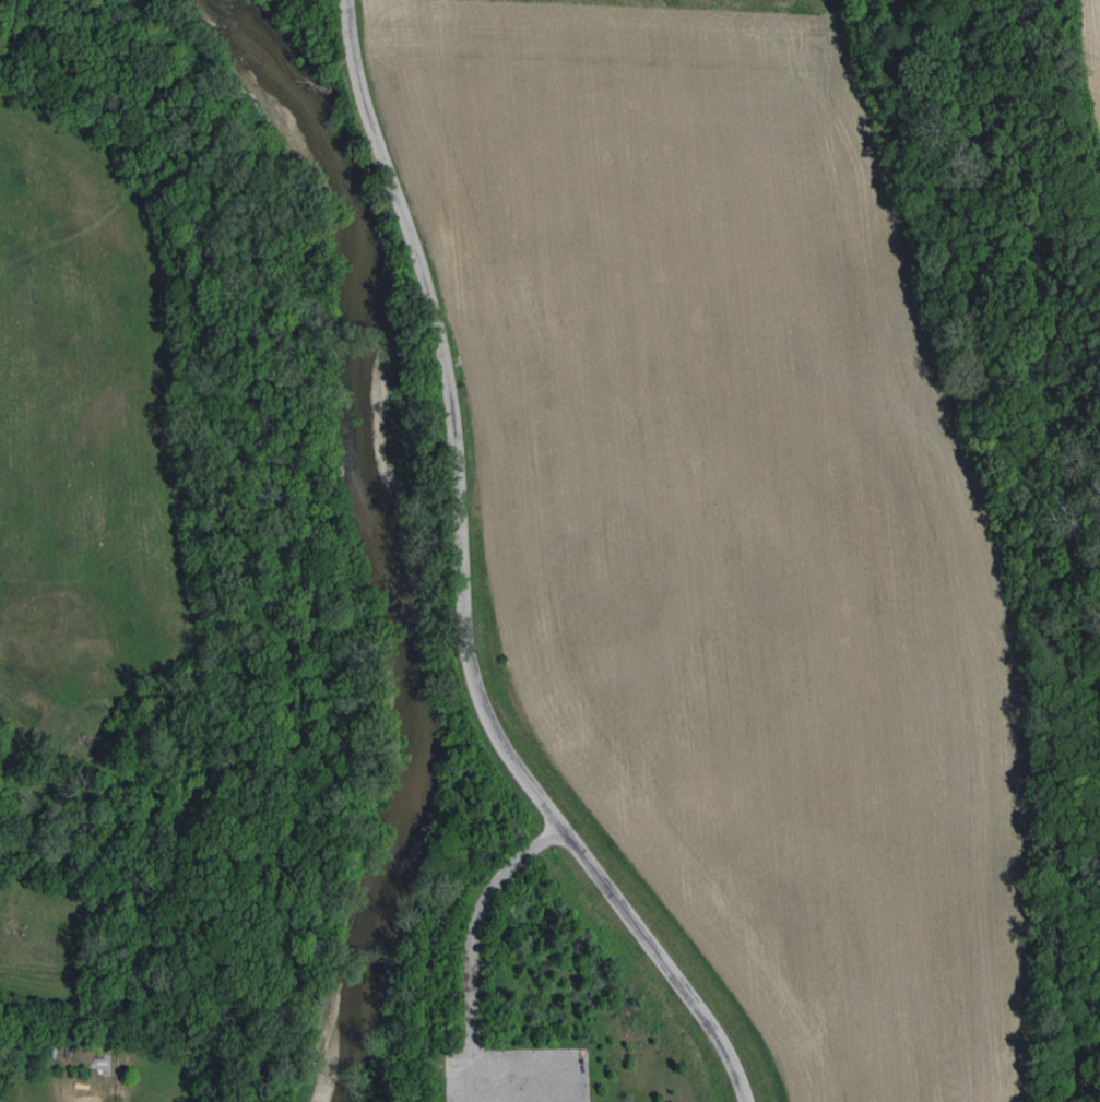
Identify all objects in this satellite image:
river: (382, 535)
road: (462, 585)

